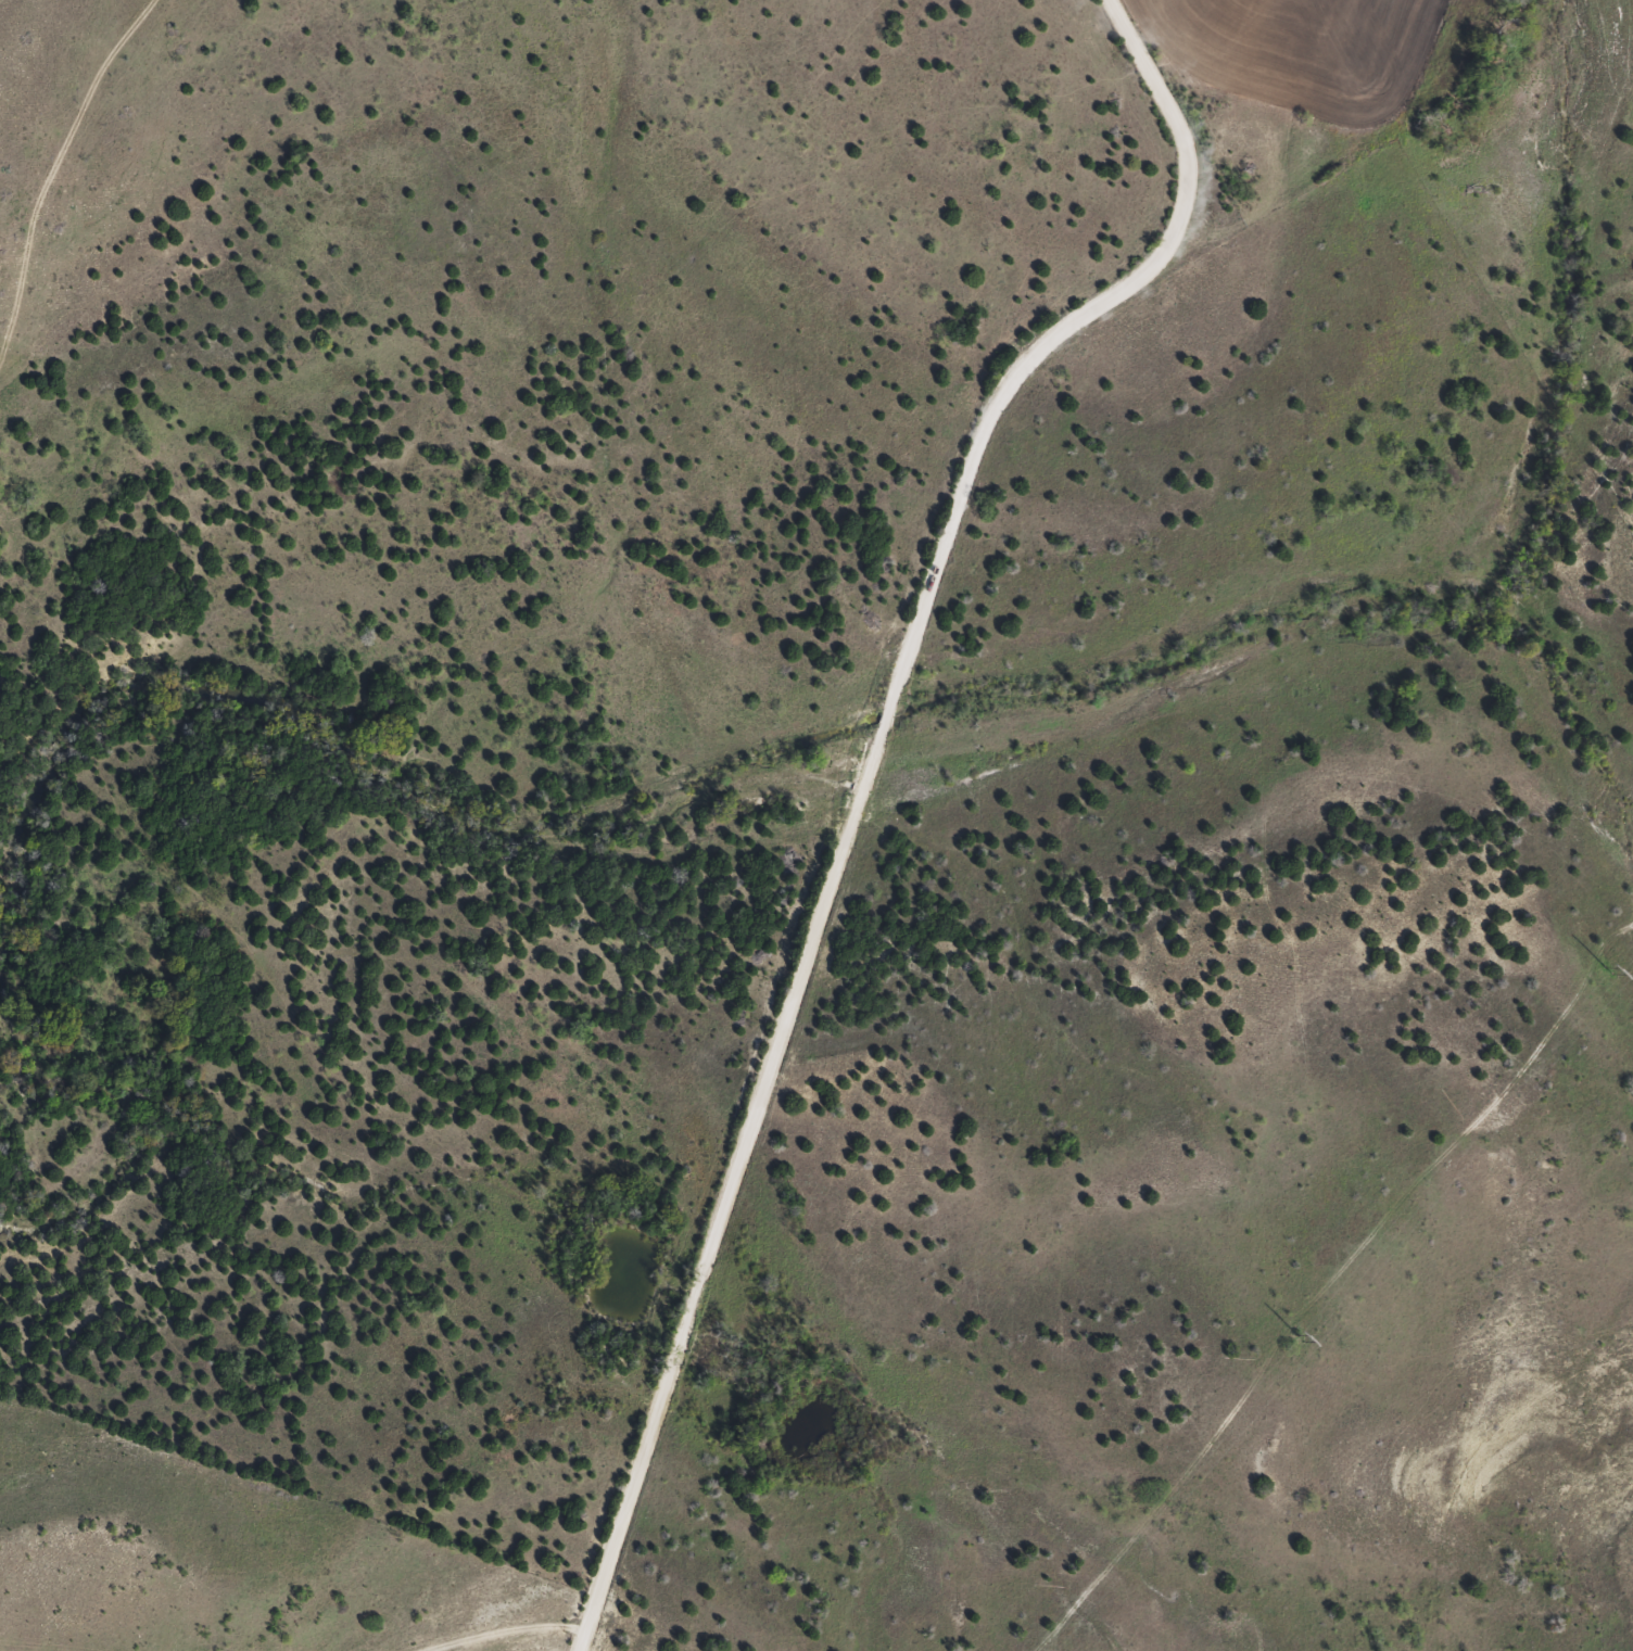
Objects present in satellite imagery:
road: (136, 136)
road: (862, 784)
power tower: (1607, 969)
power tower: (1299, 1336)

